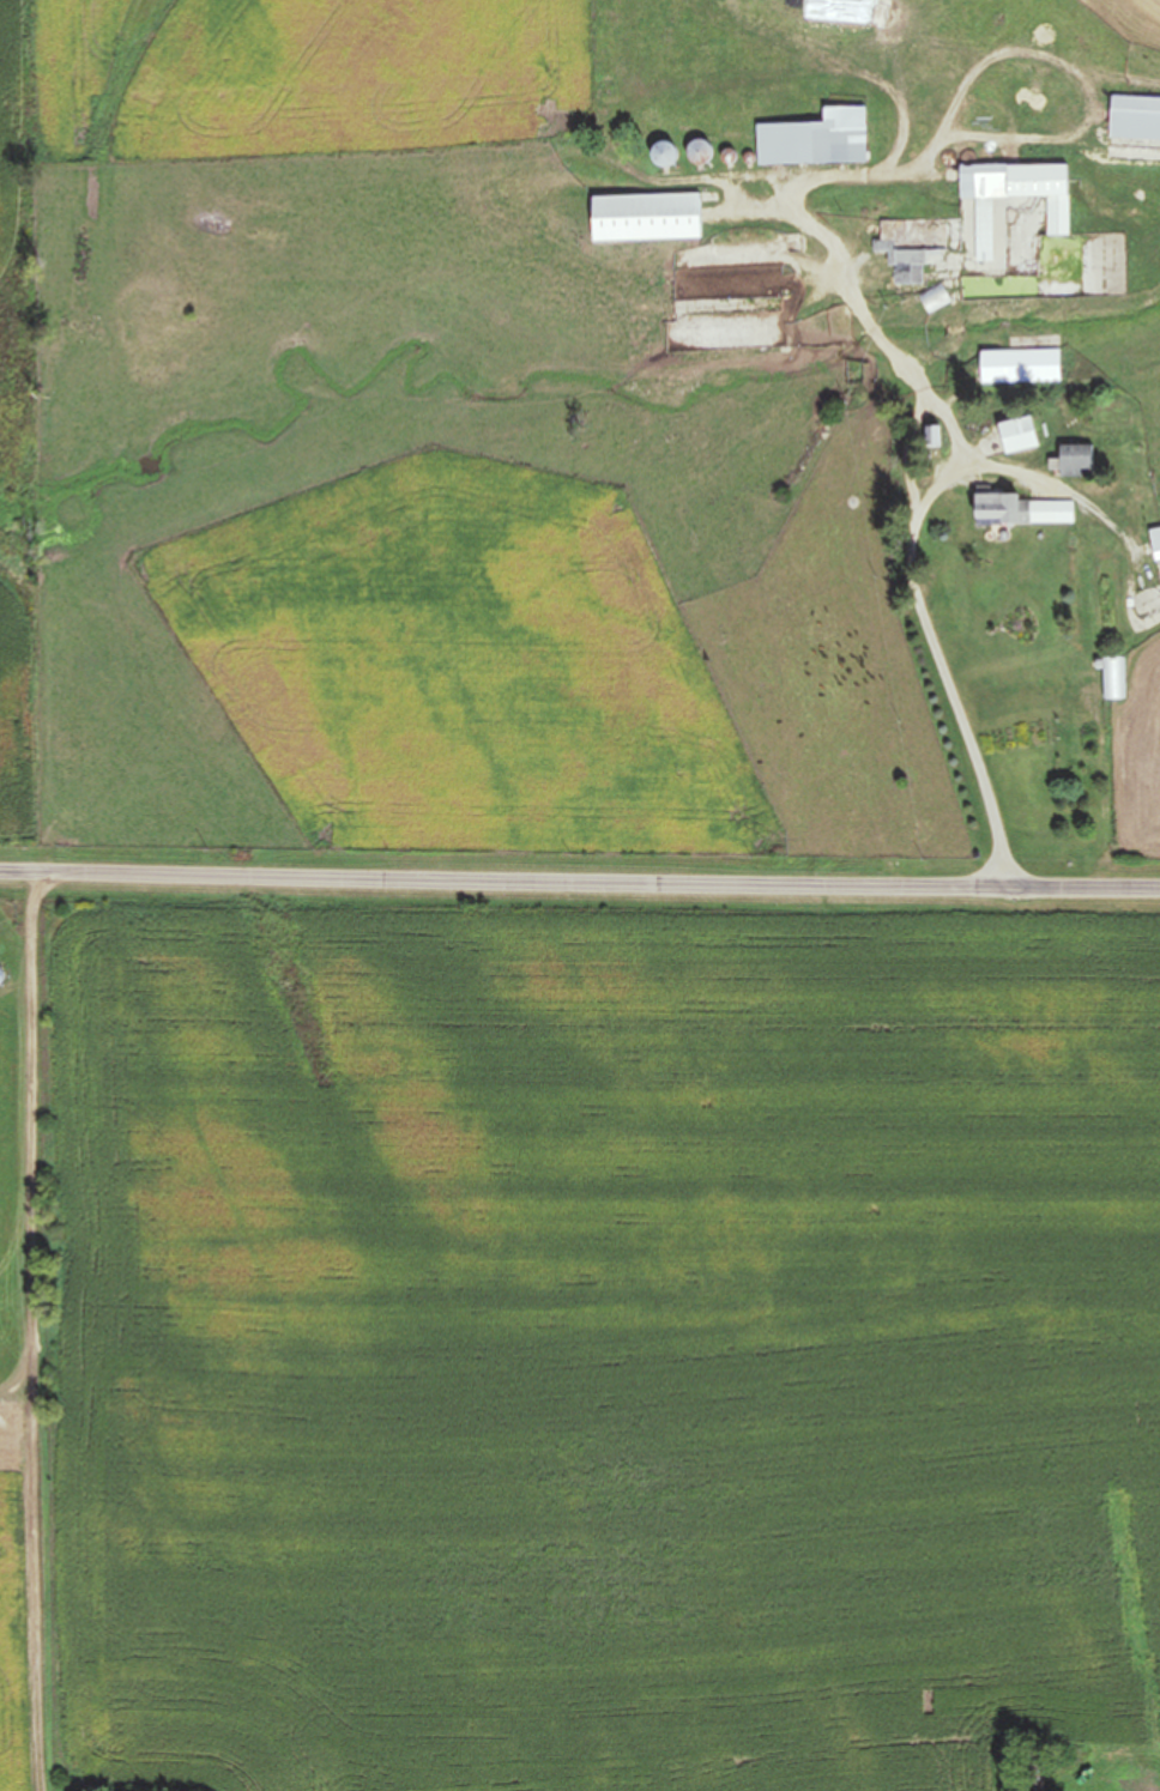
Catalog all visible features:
building: (842, 11)
building: (1134, 120)
building: (812, 141)
building: (659, 156)
building: (1013, 198)
building: (641, 219)
building: (913, 246)
building: (934, 299)
building: (645, 314)
building: (1021, 368)
building: (1017, 436)
building: (1074, 461)
building: (1019, 513)
building: (1154, 543)
building: (1114, 679)
building: (1100, 740)
road: (580, 866)

